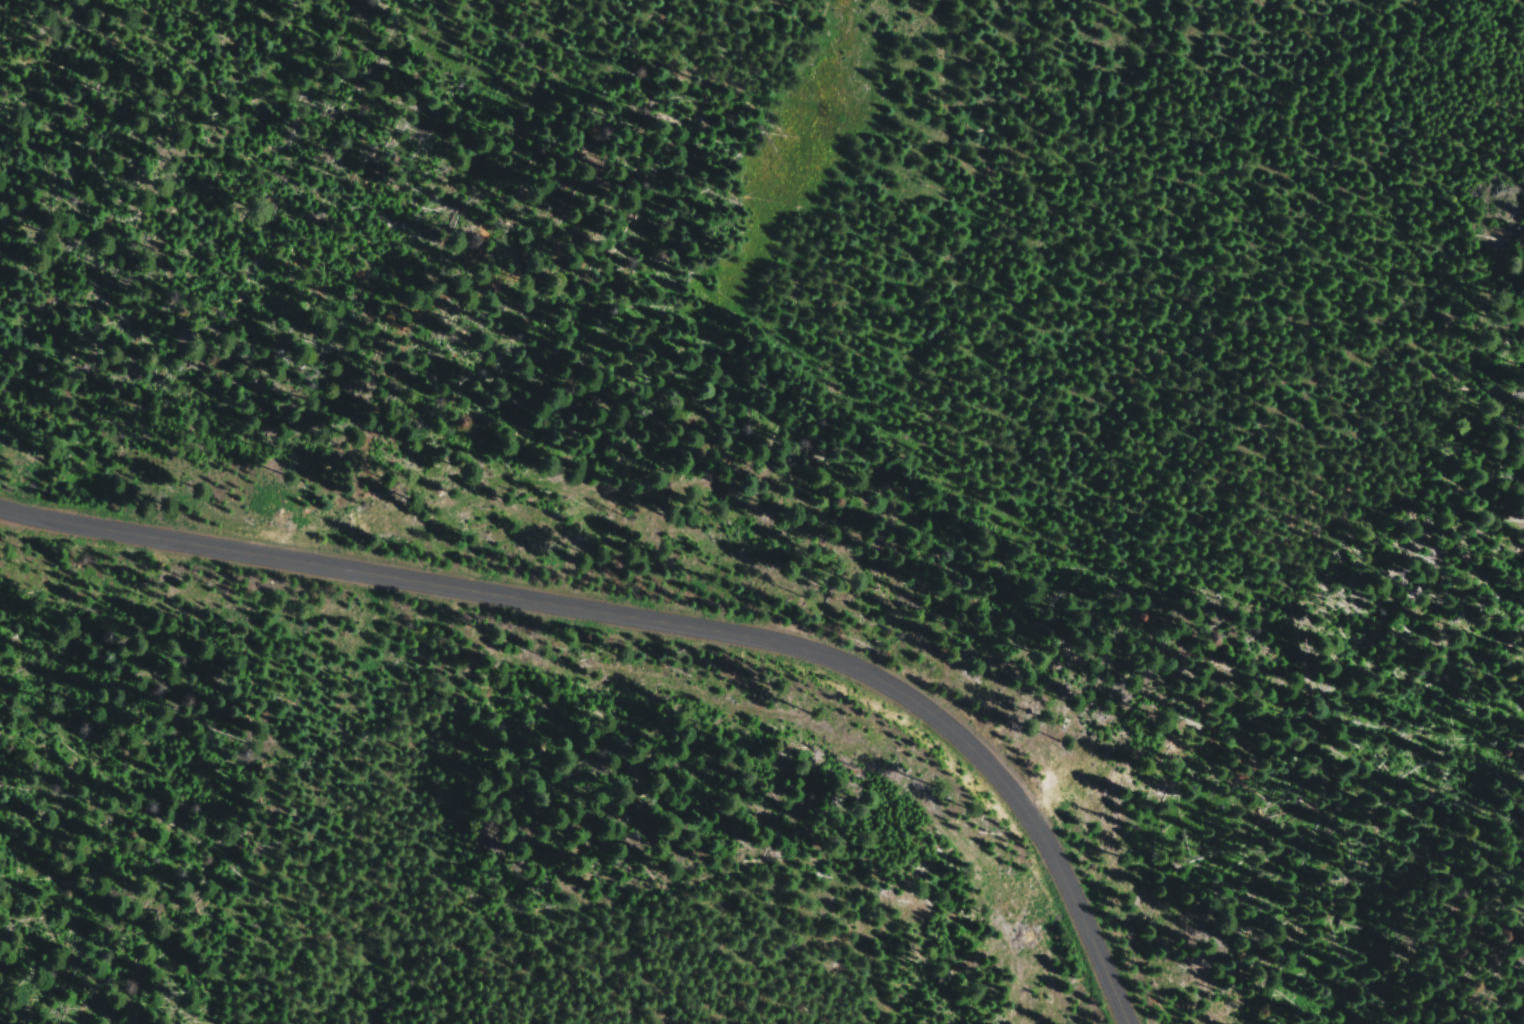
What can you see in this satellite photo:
road: (655, 623)

